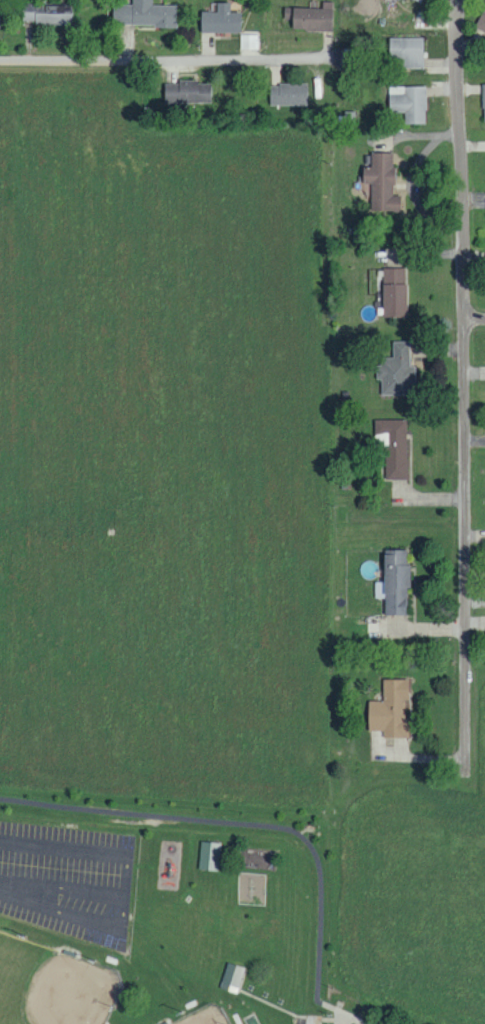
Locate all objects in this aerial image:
building: (420, 0)
building: (0, 12)
building: (46, 14)
building: (143, 14)
building: (310, 18)
building: (219, 20)
building: (481, 22)
building: (248, 42)
building: (406, 52)
road: (164, 61)
building: (186, 92)
building: (288, 95)
building: (408, 103)
building: (483, 104)
building: (381, 184)
building: (393, 292)
road: (476, 323)
building: (395, 371)
road: (466, 386)
building: (392, 446)
crop: (161, 453)
building: (395, 582)
building: (390, 710)
road: (413, 759)
road: (245, 823)
building: (209, 855)
park: (150, 894)
crop: (412, 897)
building: (231, 977)
park: (52, 986)
road: (327, 1006)
park: (205, 1016)
road: (337, 1017)
road: (350, 1017)
road: (325, 1020)
road: (312, 1022)

